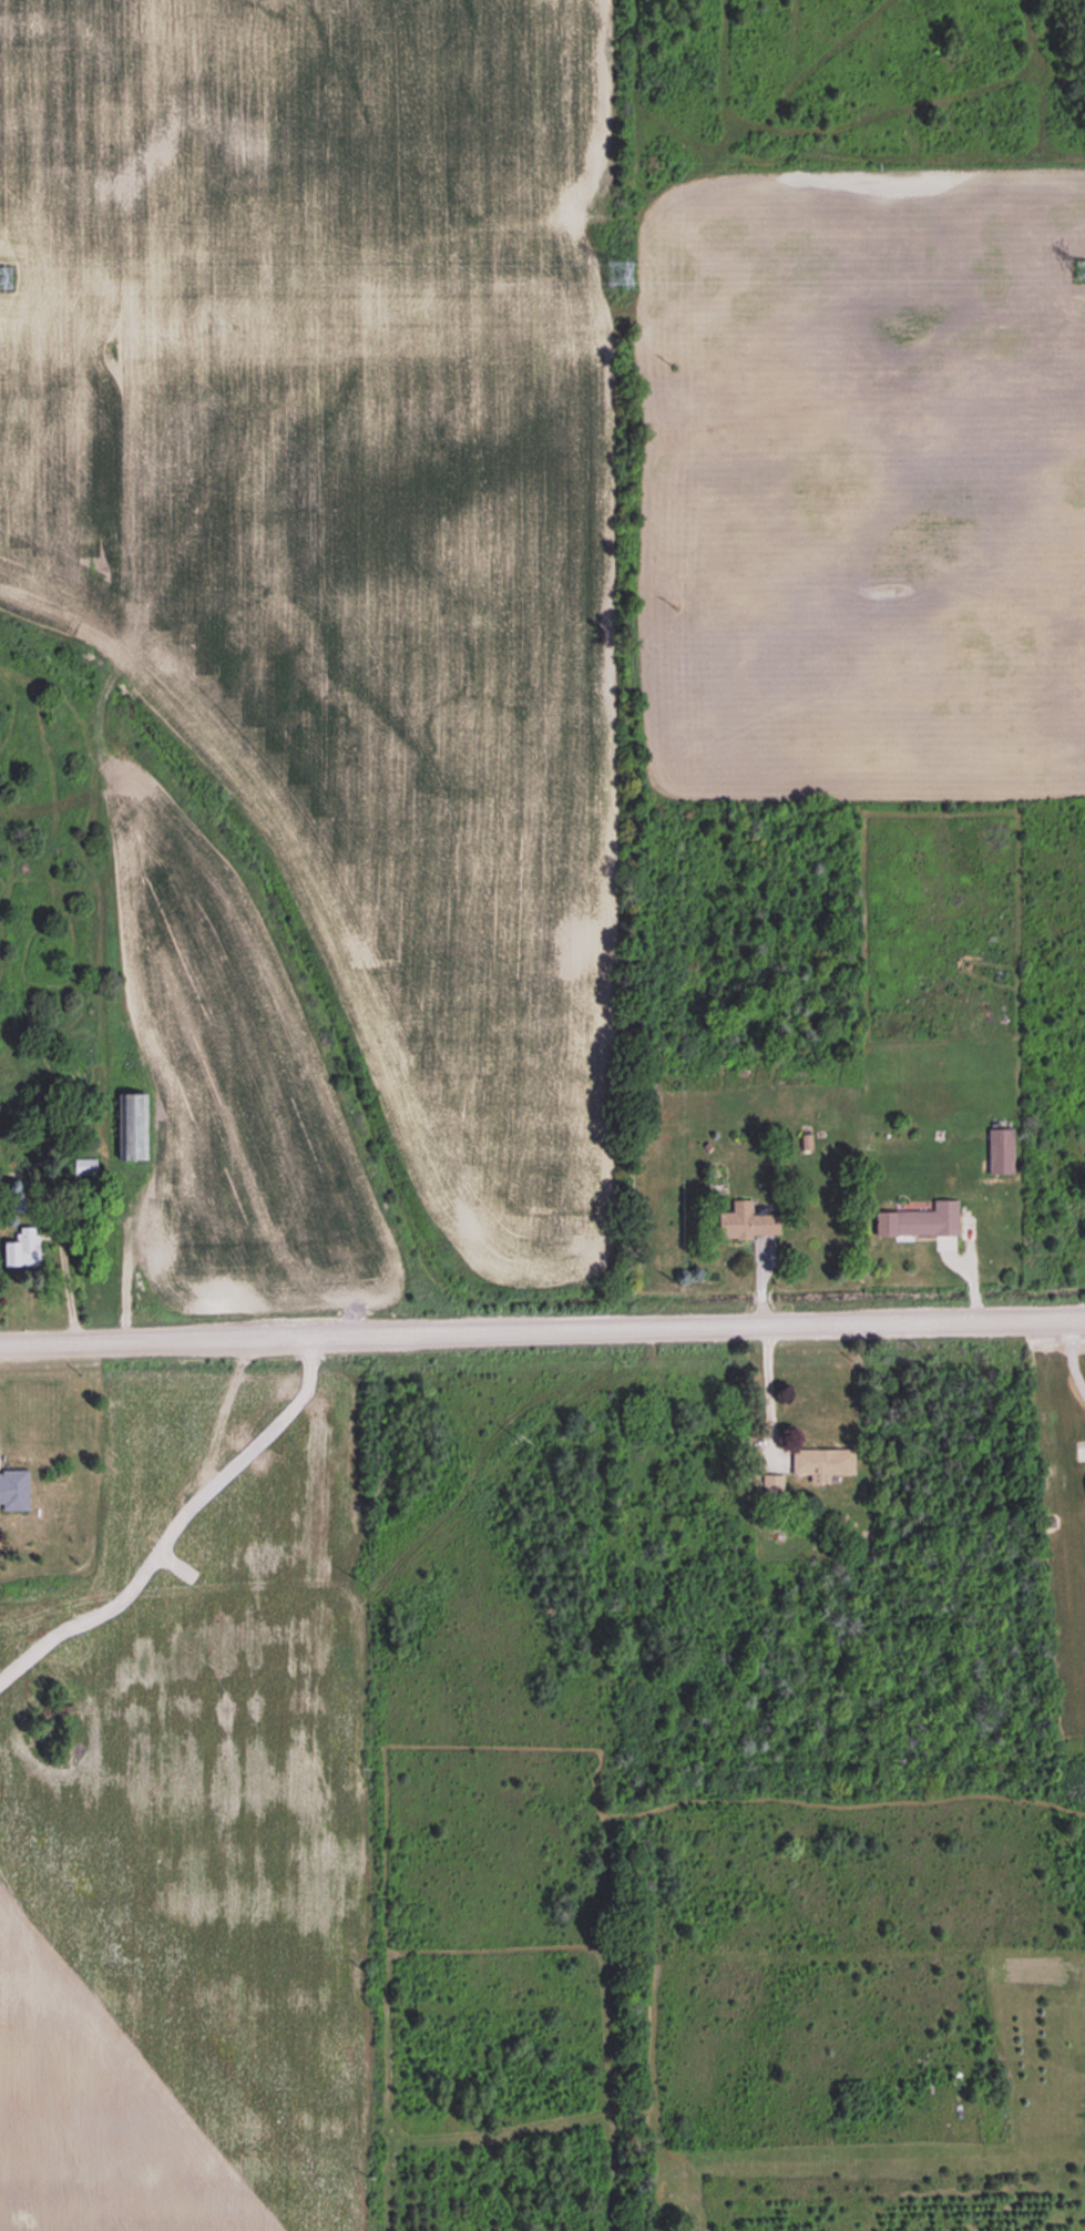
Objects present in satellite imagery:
power tower: (621, 272)
power tower: (1084, 272)
power tower: (1, 277)
building: (1000, 1153)
building: (746, 1224)
building: (22, 1248)
road: (122, 1252)
road: (542, 1328)
road: (1073, 1362)
road: (765, 1395)
building: (821, 1464)
building: (772, 1485)
building: (14, 1490)

